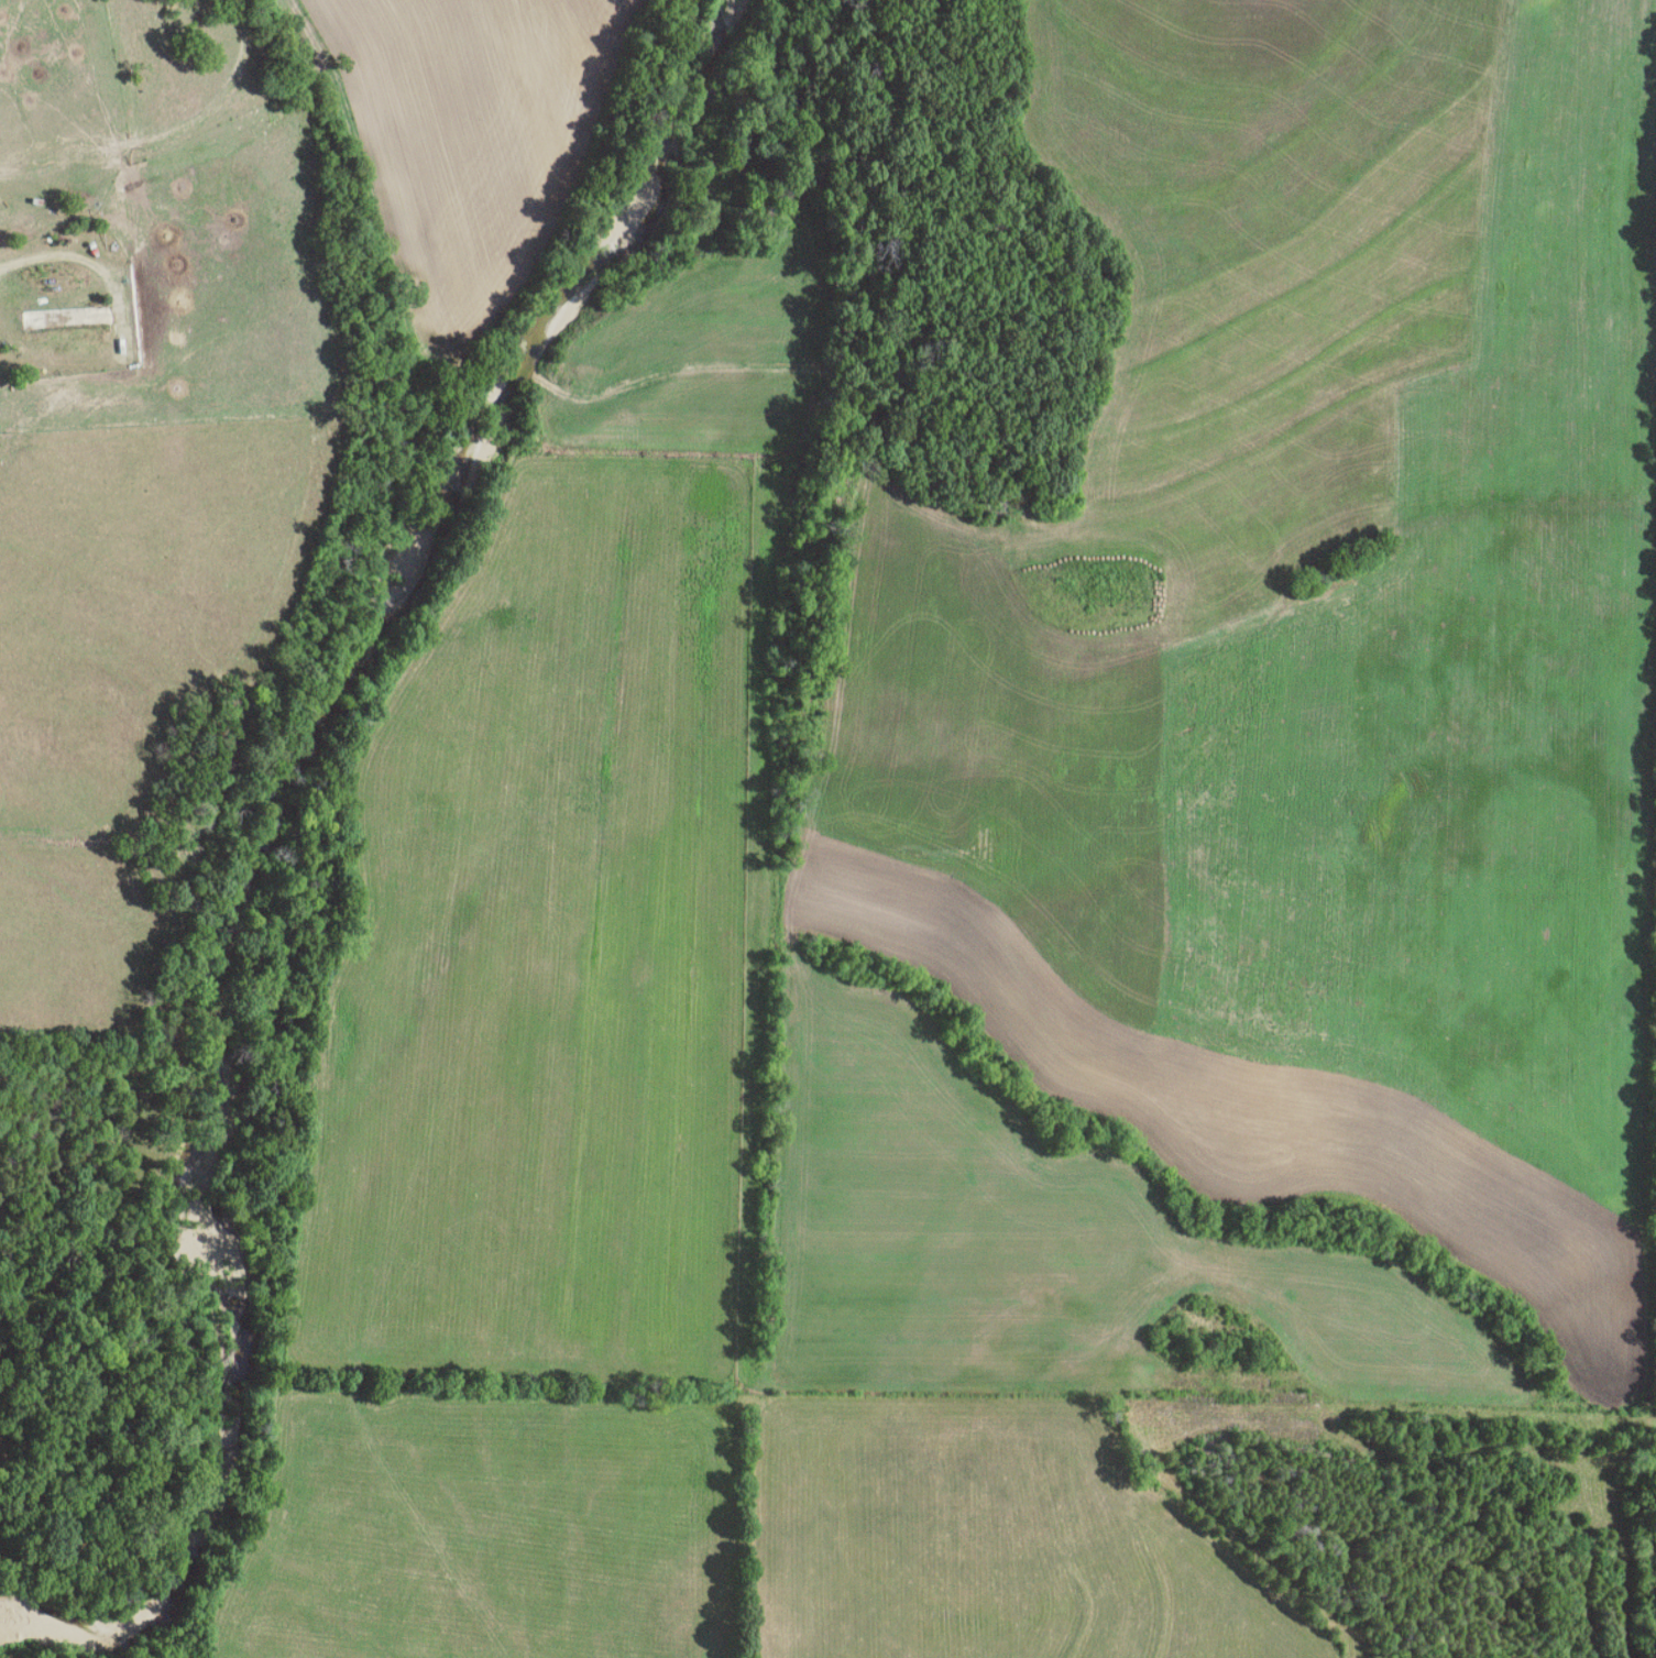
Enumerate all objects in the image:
road: (18, 1504)

